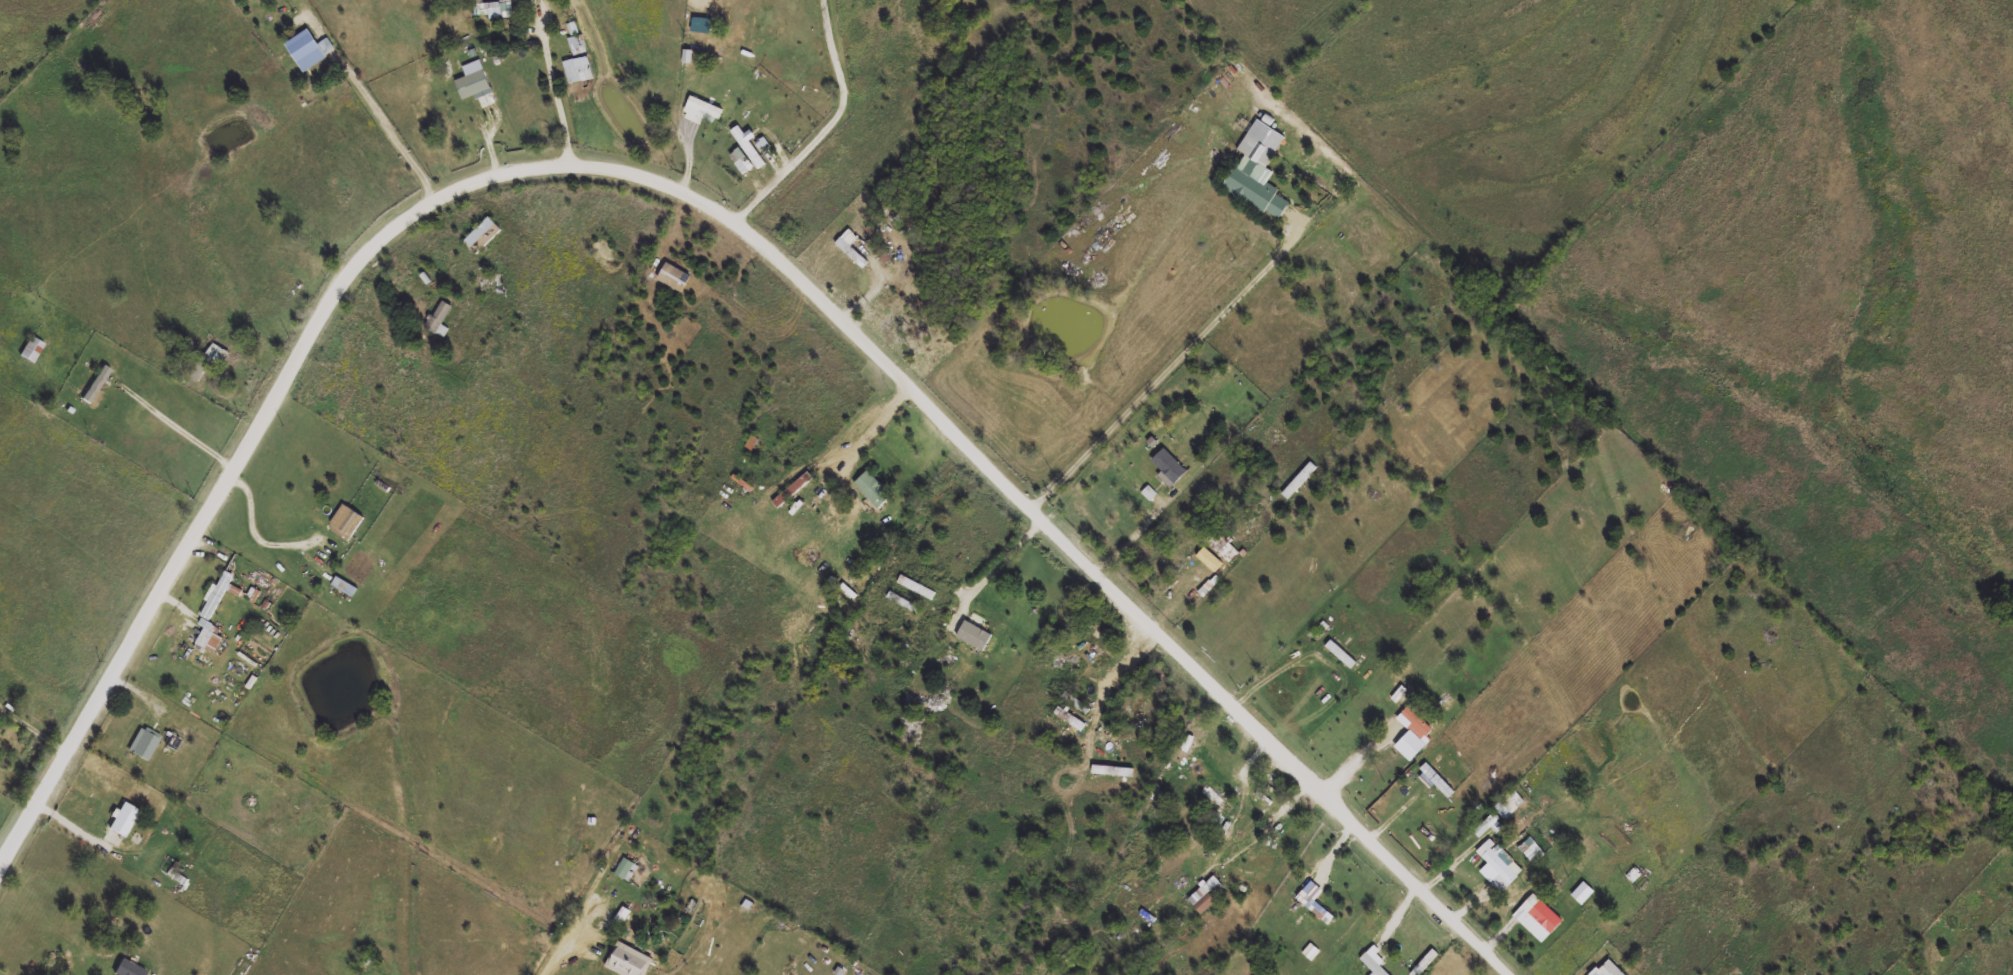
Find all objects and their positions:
building: (492, 8)
building: (577, 45)
building: (309, 49)
building: (579, 69)
building: (474, 84)
road: (564, 87)
building: (703, 107)
road: (396, 125)
road: (831, 128)
building: (1257, 178)
road: (715, 210)
building: (483, 235)
building: (877, 245)
building: (488, 281)
building: (440, 320)
building: (31, 349)
building: (208, 361)
road: (1163, 377)
road: (181, 420)
road: (870, 420)
building: (752, 444)
building: (1171, 467)
building: (1299, 481)
building: (872, 482)
building: (1378, 494)
building: (346, 523)
road: (259, 526)
building: (1223, 547)
road: (1002, 564)
building: (345, 586)
building: (220, 594)
building: (902, 603)
building: (978, 635)
building: (1341, 655)
building: (1078, 703)
building: (1072, 718)
building: (1418, 724)
building: (178, 740)
building: (143, 744)
road: (1357, 756)
building: (1437, 781)
building: (1215, 799)
building: (1508, 805)
building: (124, 818)
building: (1486, 824)
building: (1498, 863)
building: (626, 868)
building: (1205, 894)
building: (1315, 908)
building: (1542, 921)
road: (570, 950)
building: (629, 961)
building: (1374, 962)
building: (1612, 969)
building: (1597, 972)

